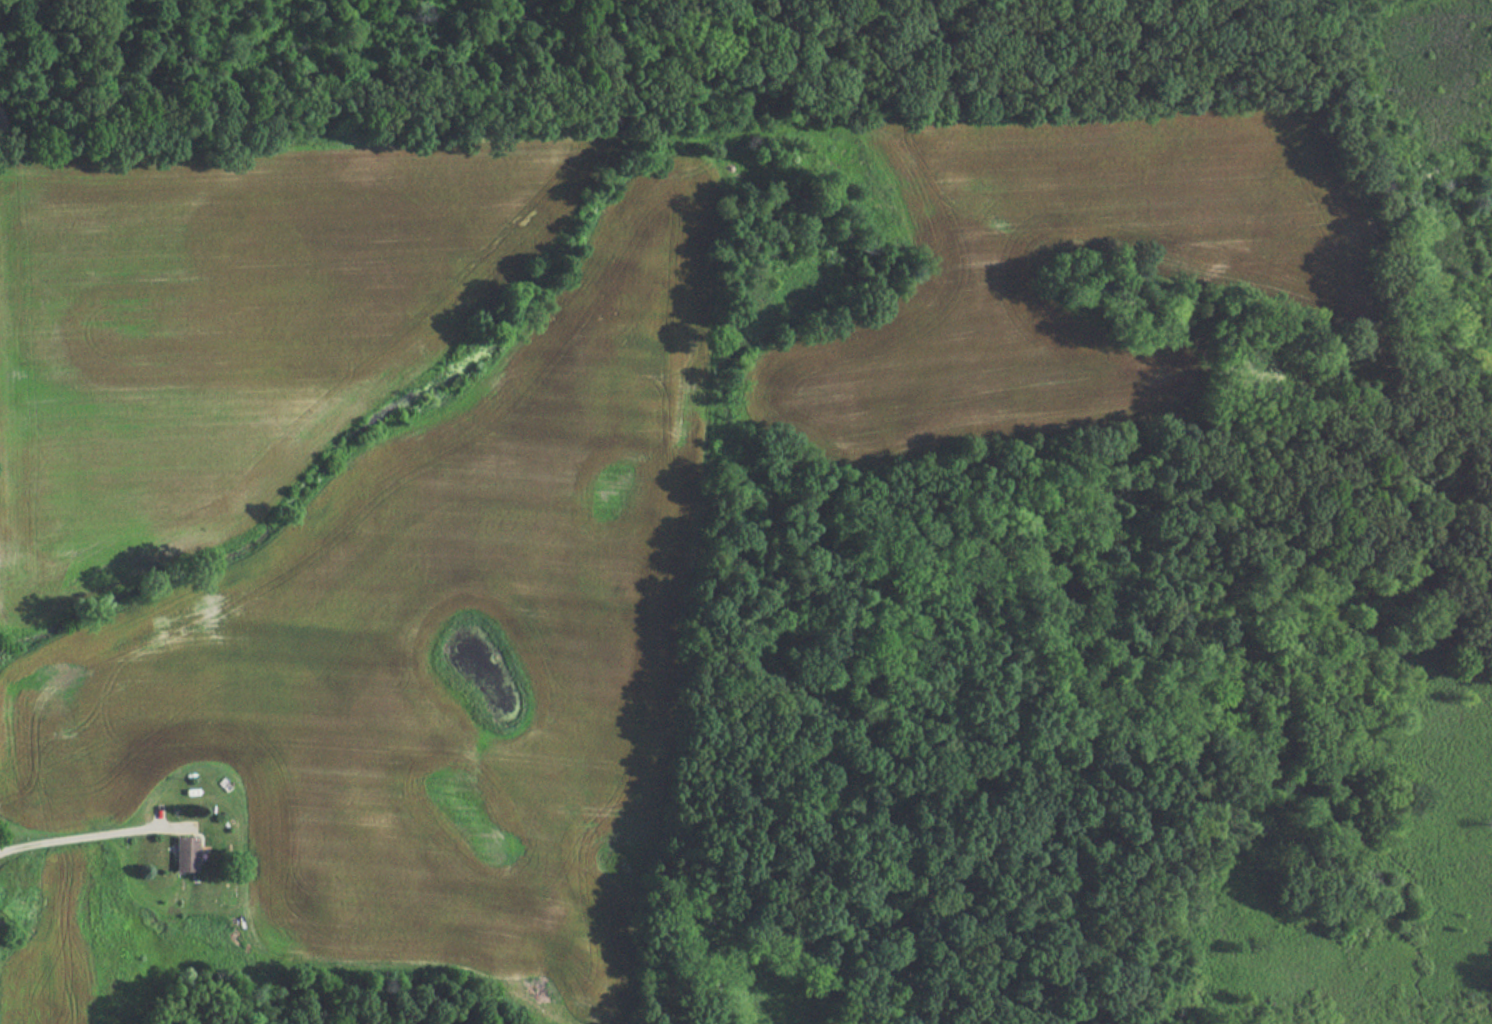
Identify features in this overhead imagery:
park: (658, 55)
road: (78, 839)
building: (181, 855)

